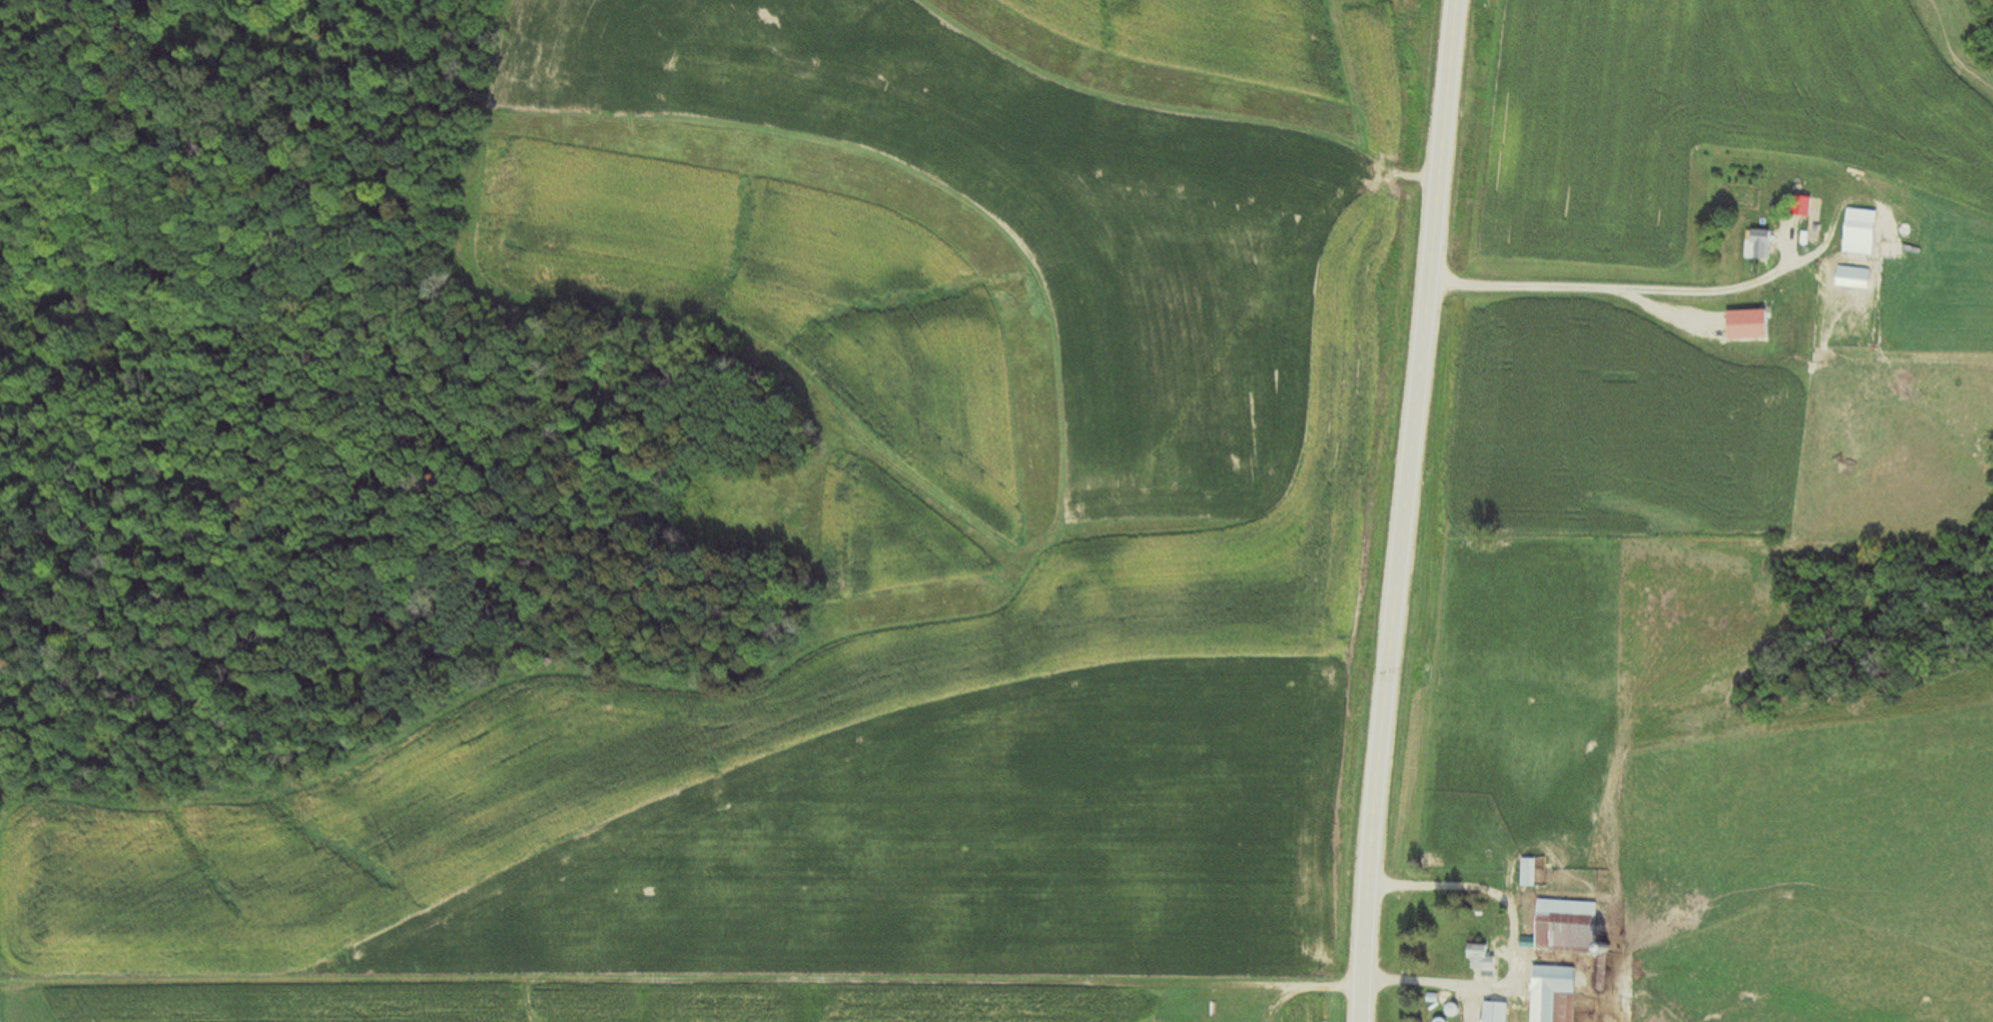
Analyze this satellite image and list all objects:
building: (1802, 210)
building: (1855, 234)
building: (1755, 247)
building: (1849, 280)
road: (1610, 284)
building: (1742, 327)
road: (1404, 510)
building: (1526, 875)
building: (1563, 914)
building: (1479, 963)
building: (1551, 995)
building: (1492, 1013)

